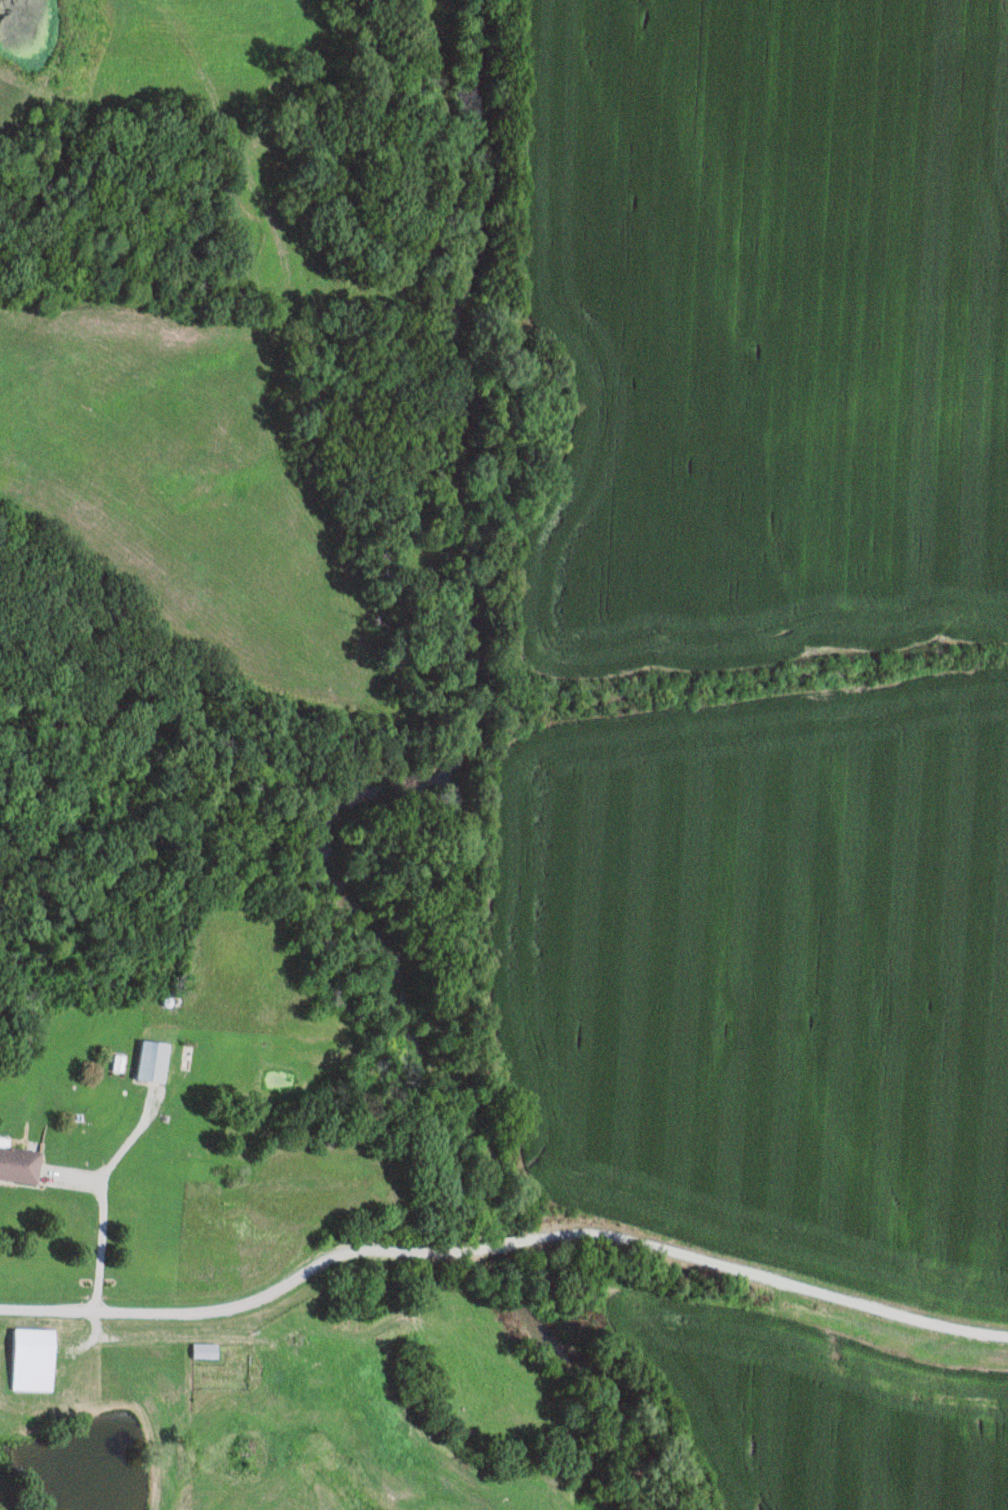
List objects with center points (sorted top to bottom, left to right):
building: (153, 1063)
building: (18, 1166)
road: (104, 1196)
road: (504, 1247)
building: (201, 1352)
building: (28, 1361)

